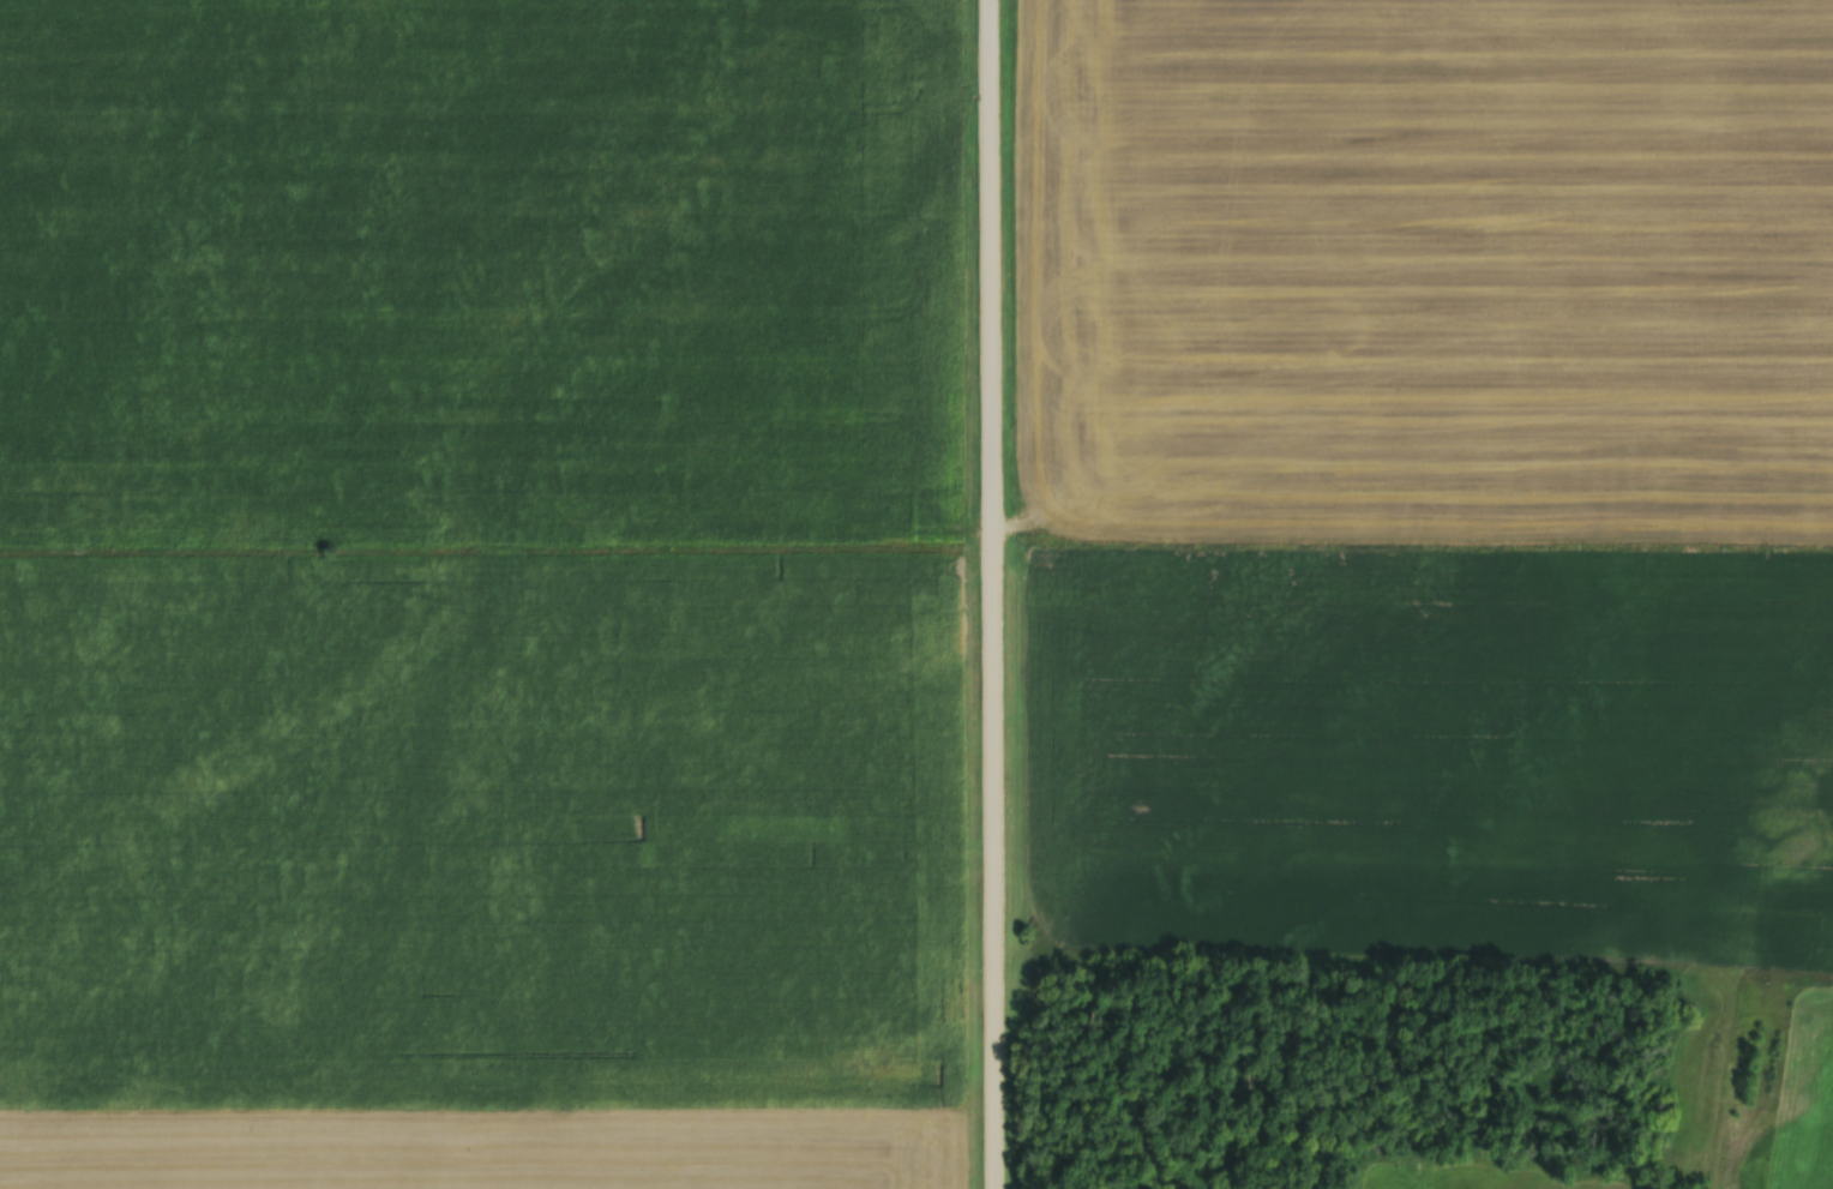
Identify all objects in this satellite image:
road: (996, 594)

